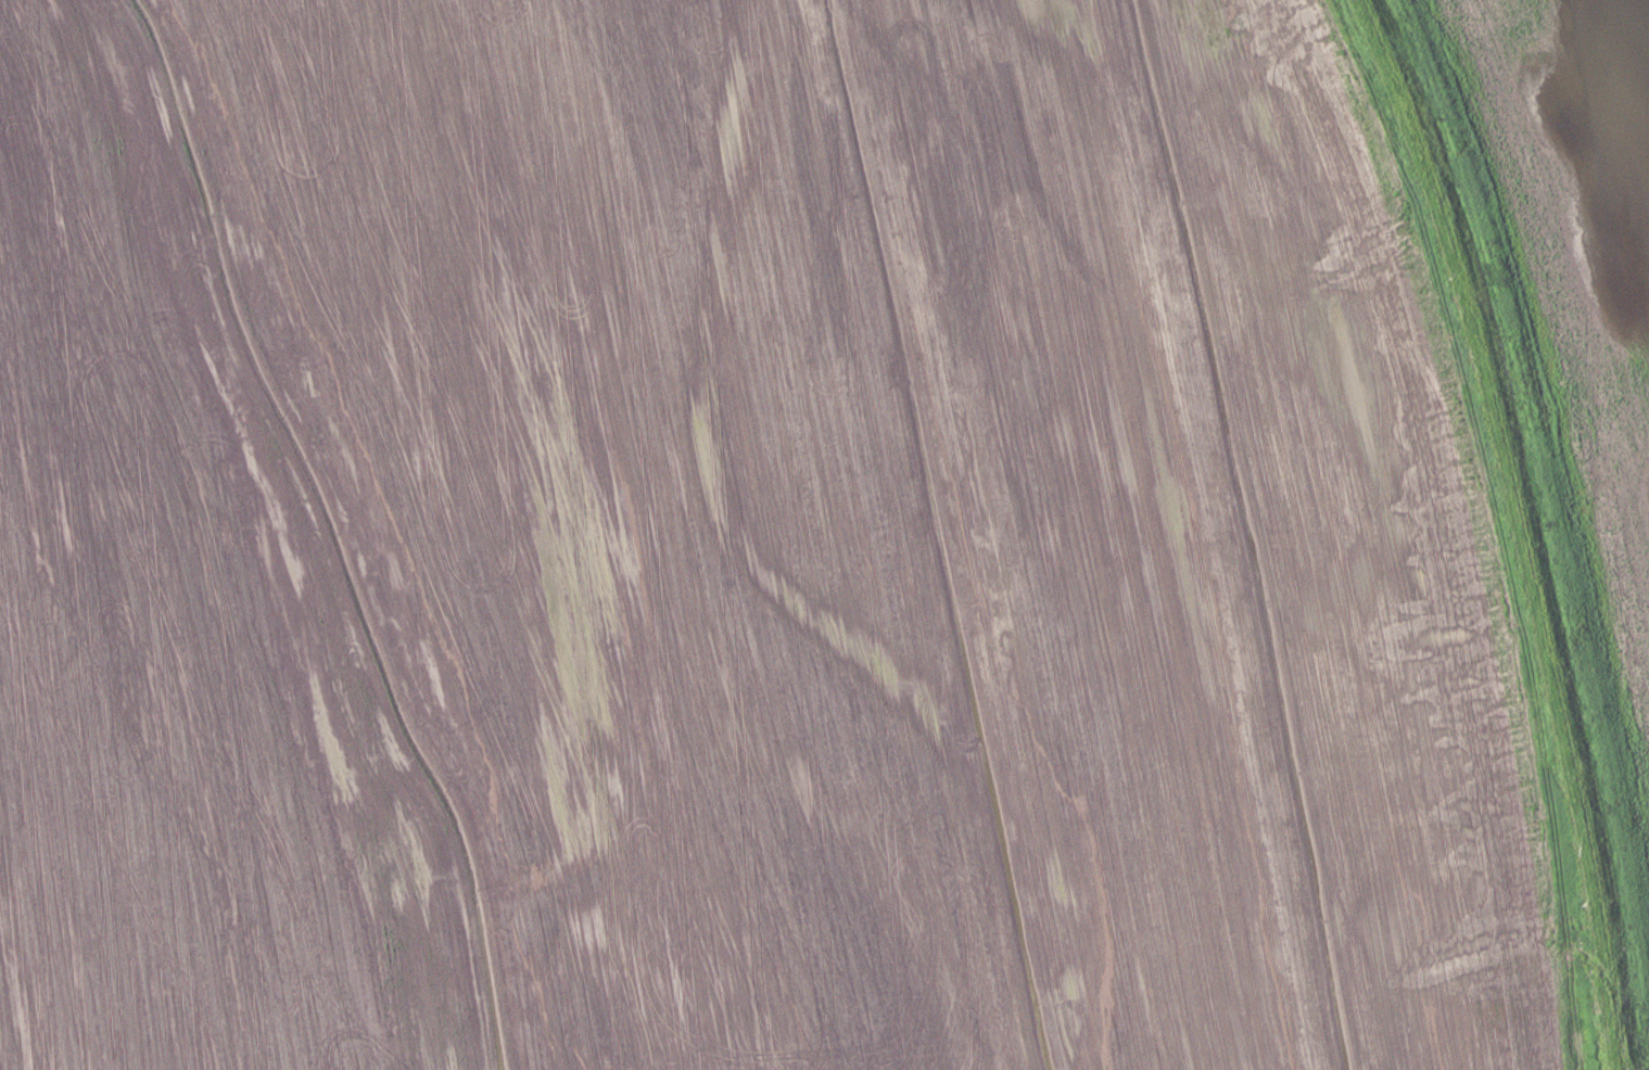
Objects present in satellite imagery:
road: (1549, 474)

